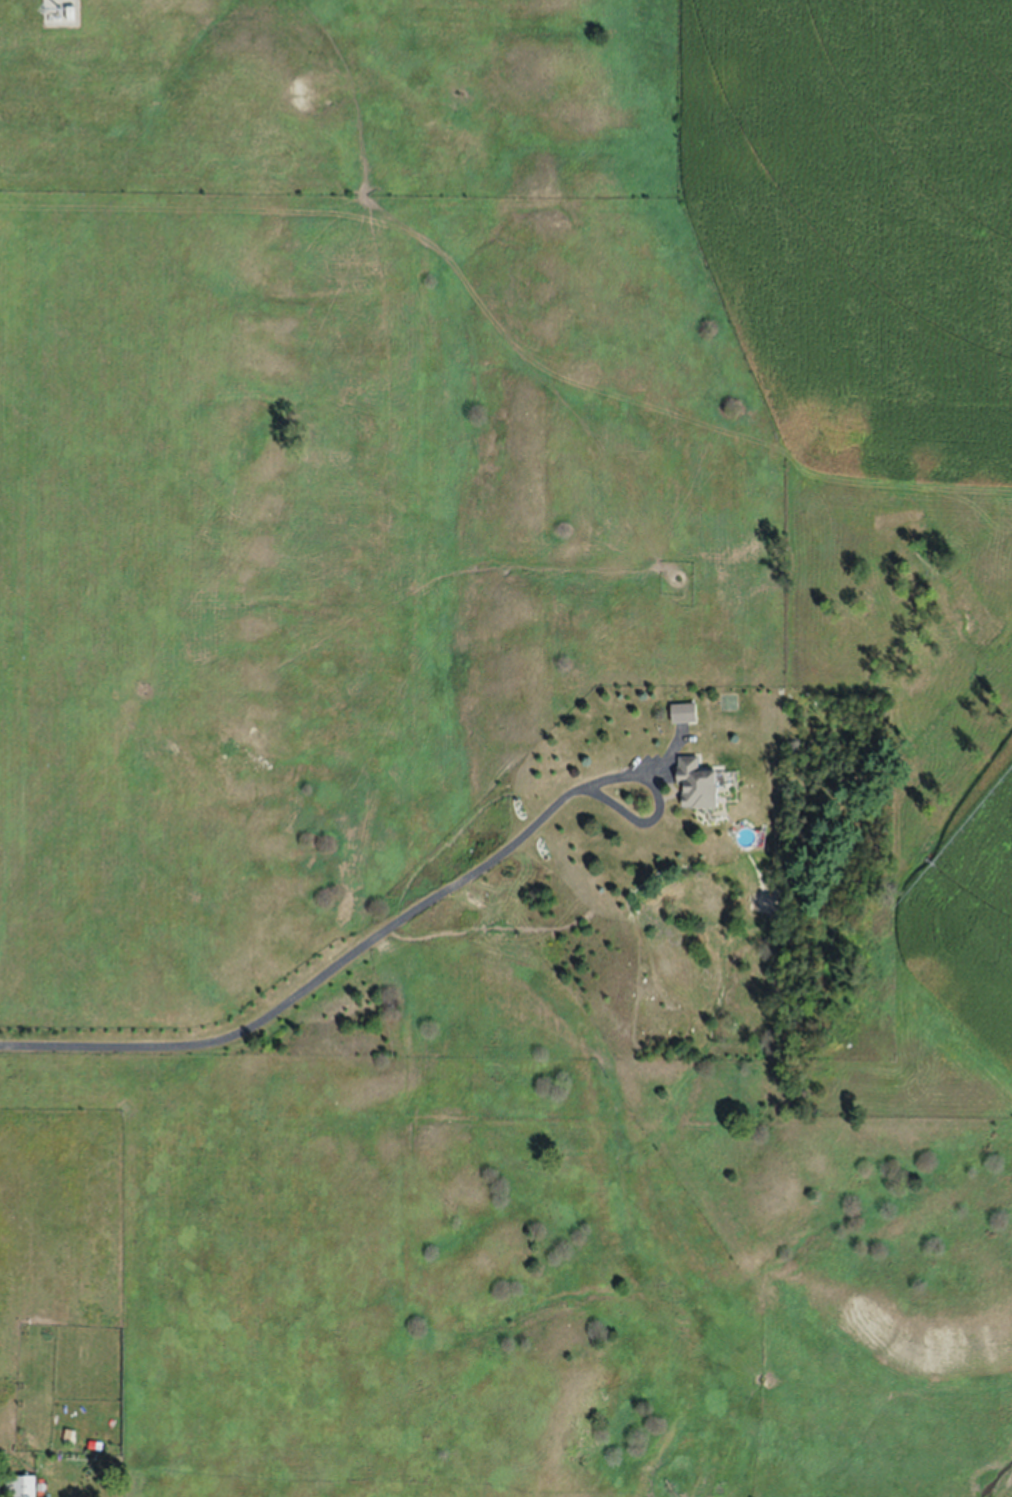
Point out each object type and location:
building: (684, 713)
building: (697, 784)
road: (660, 805)
road: (312, 980)
building: (25, 1486)

